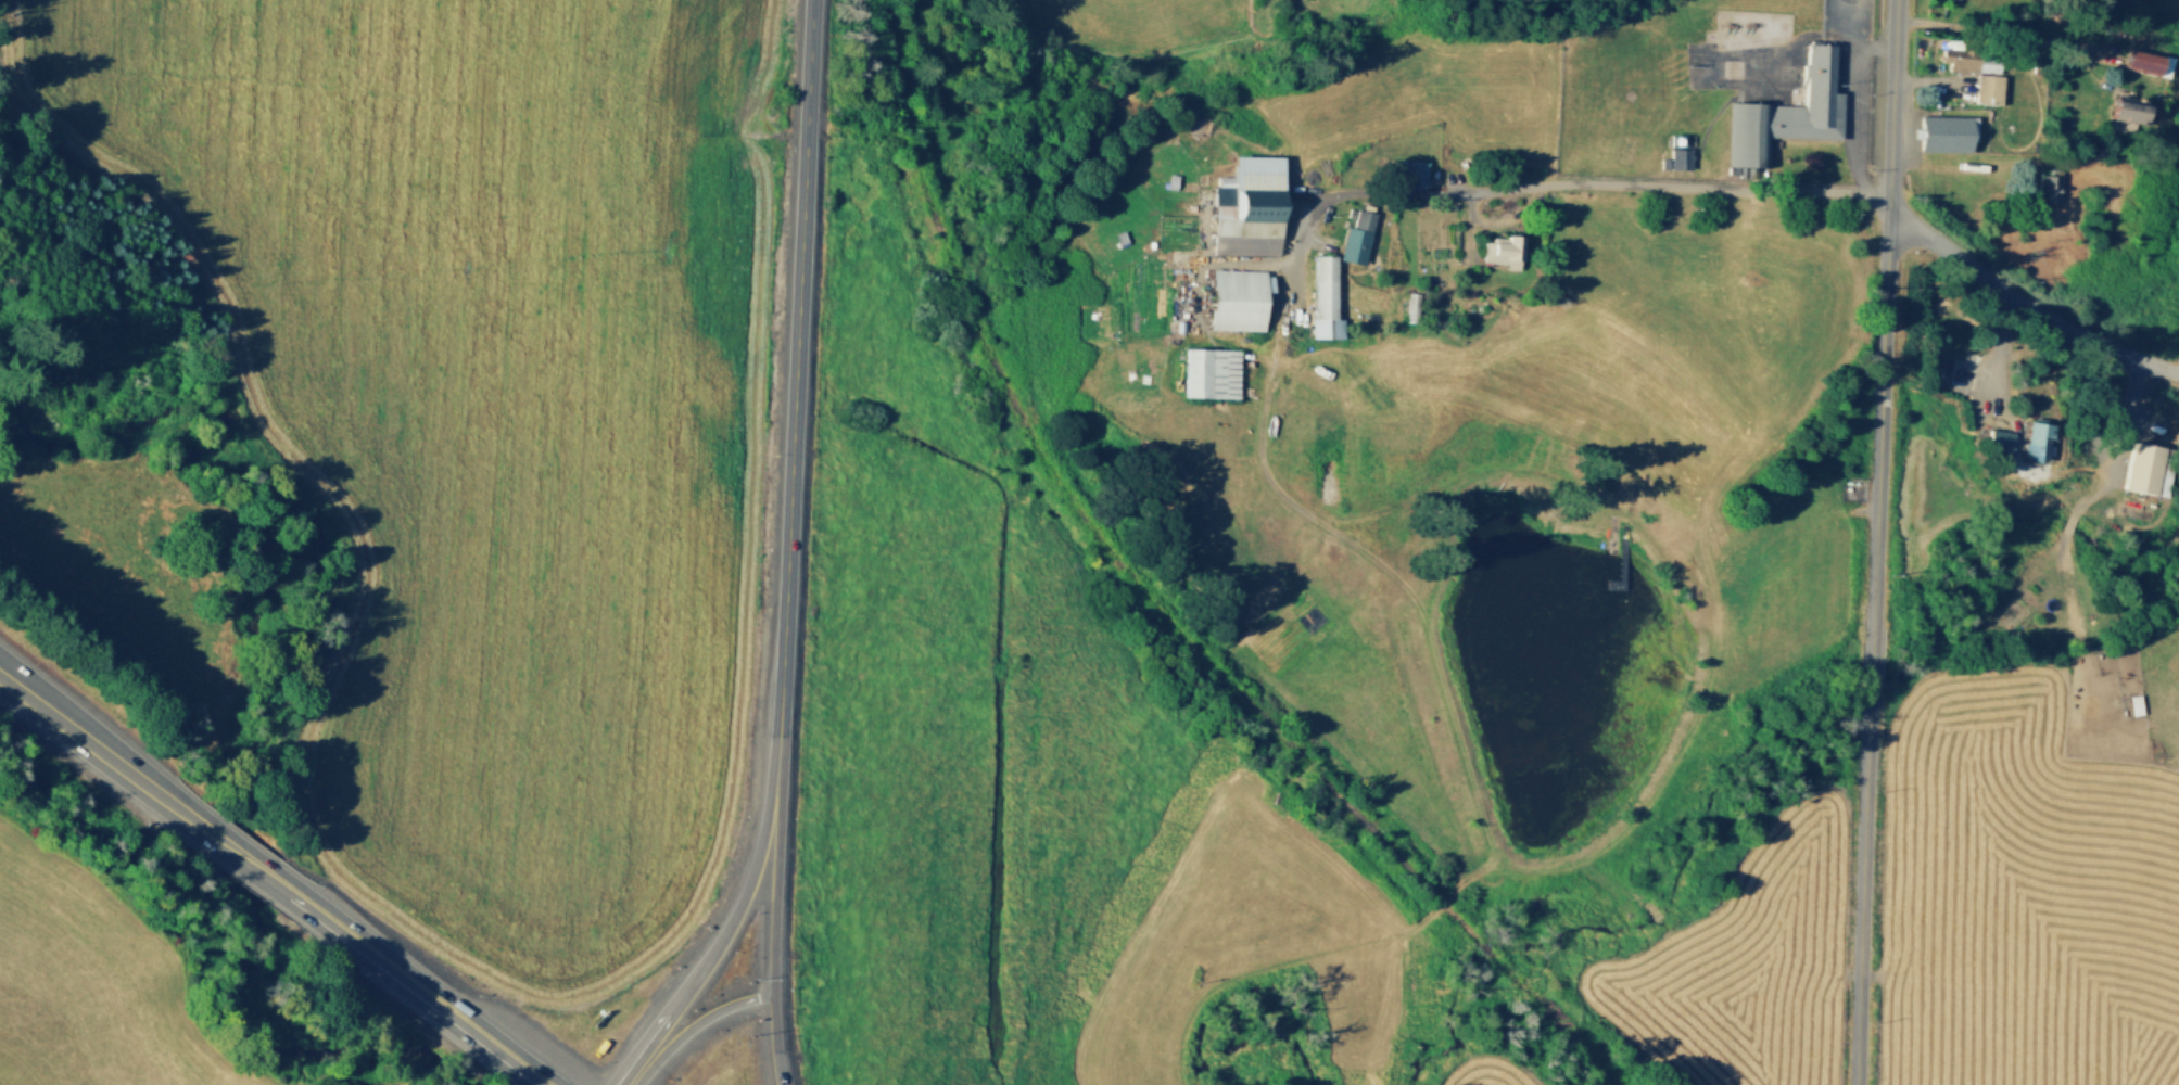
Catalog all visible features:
road: (2006, 37)
road: (1873, 47)
building: (1758, 54)
building: (1772, 54)
building: (1958, 60)
building: (1987, 62)
building: (2146, 62)
road: (1779, 72)
road: (1931, 81)
parking lot: (1855, 82)
building: (1987, 90)
road: (1852, 99)
building: (2125, 106)
building: (1788, 113)
building: (1947, 130)
building: (1622, 132)
building: (1675, 140)
building: (1623, 148)
building: (1636, 154)
building: (1645, 155)
building: (1655, 155)
building: (1678, 157)
building: (1663, 163)
building: (1409, 178)
building: (2048, 182)
road: (1526, 187)
building: (1246, 208)
road: (1505, 221)
road: (1203, 226)
road: (1462, 227)
building: (1357, 233)
building: (1505, 251)
road: (1214, 260)
building: (1237, 298)
building: (1323, 299)
crop: (1724, 302)
road: (2024, 303)
building: (1409, 304)
road: (1883, 322)
building: (1211, 373)
road: (791, 399)
road: (2000, 416)
crop: (485, 417)
building: (1998, 439)
building: (2027, 439)
road: (2119, 447)
building: (2148, 465)
railway: (1088, 520)
road: (2066, 522)
road: (1664, 556)
road: (1385, 580)
crop: (1779, 585)
road: (2066, 592)
road: (1867, 658)
road: (9, 676)
building: (2132, 702)
road: (87, 738)
crop: (1011, 753)
road: (1668, 769)
road: (190, 817)
road: (253, 866)
road: (1861, 878)
crop: (2024, 894)
road: (770, 898)
road: (736, 906)
railway: (1491, 957)
crop: (1744, 968)
road: (411, 986)
road: (701, 1019)
road: (662, 1031)
railway: (1563, 1031)
road: (772, 1042)
road: (632, 1071)
crop: (1482, 1073)

